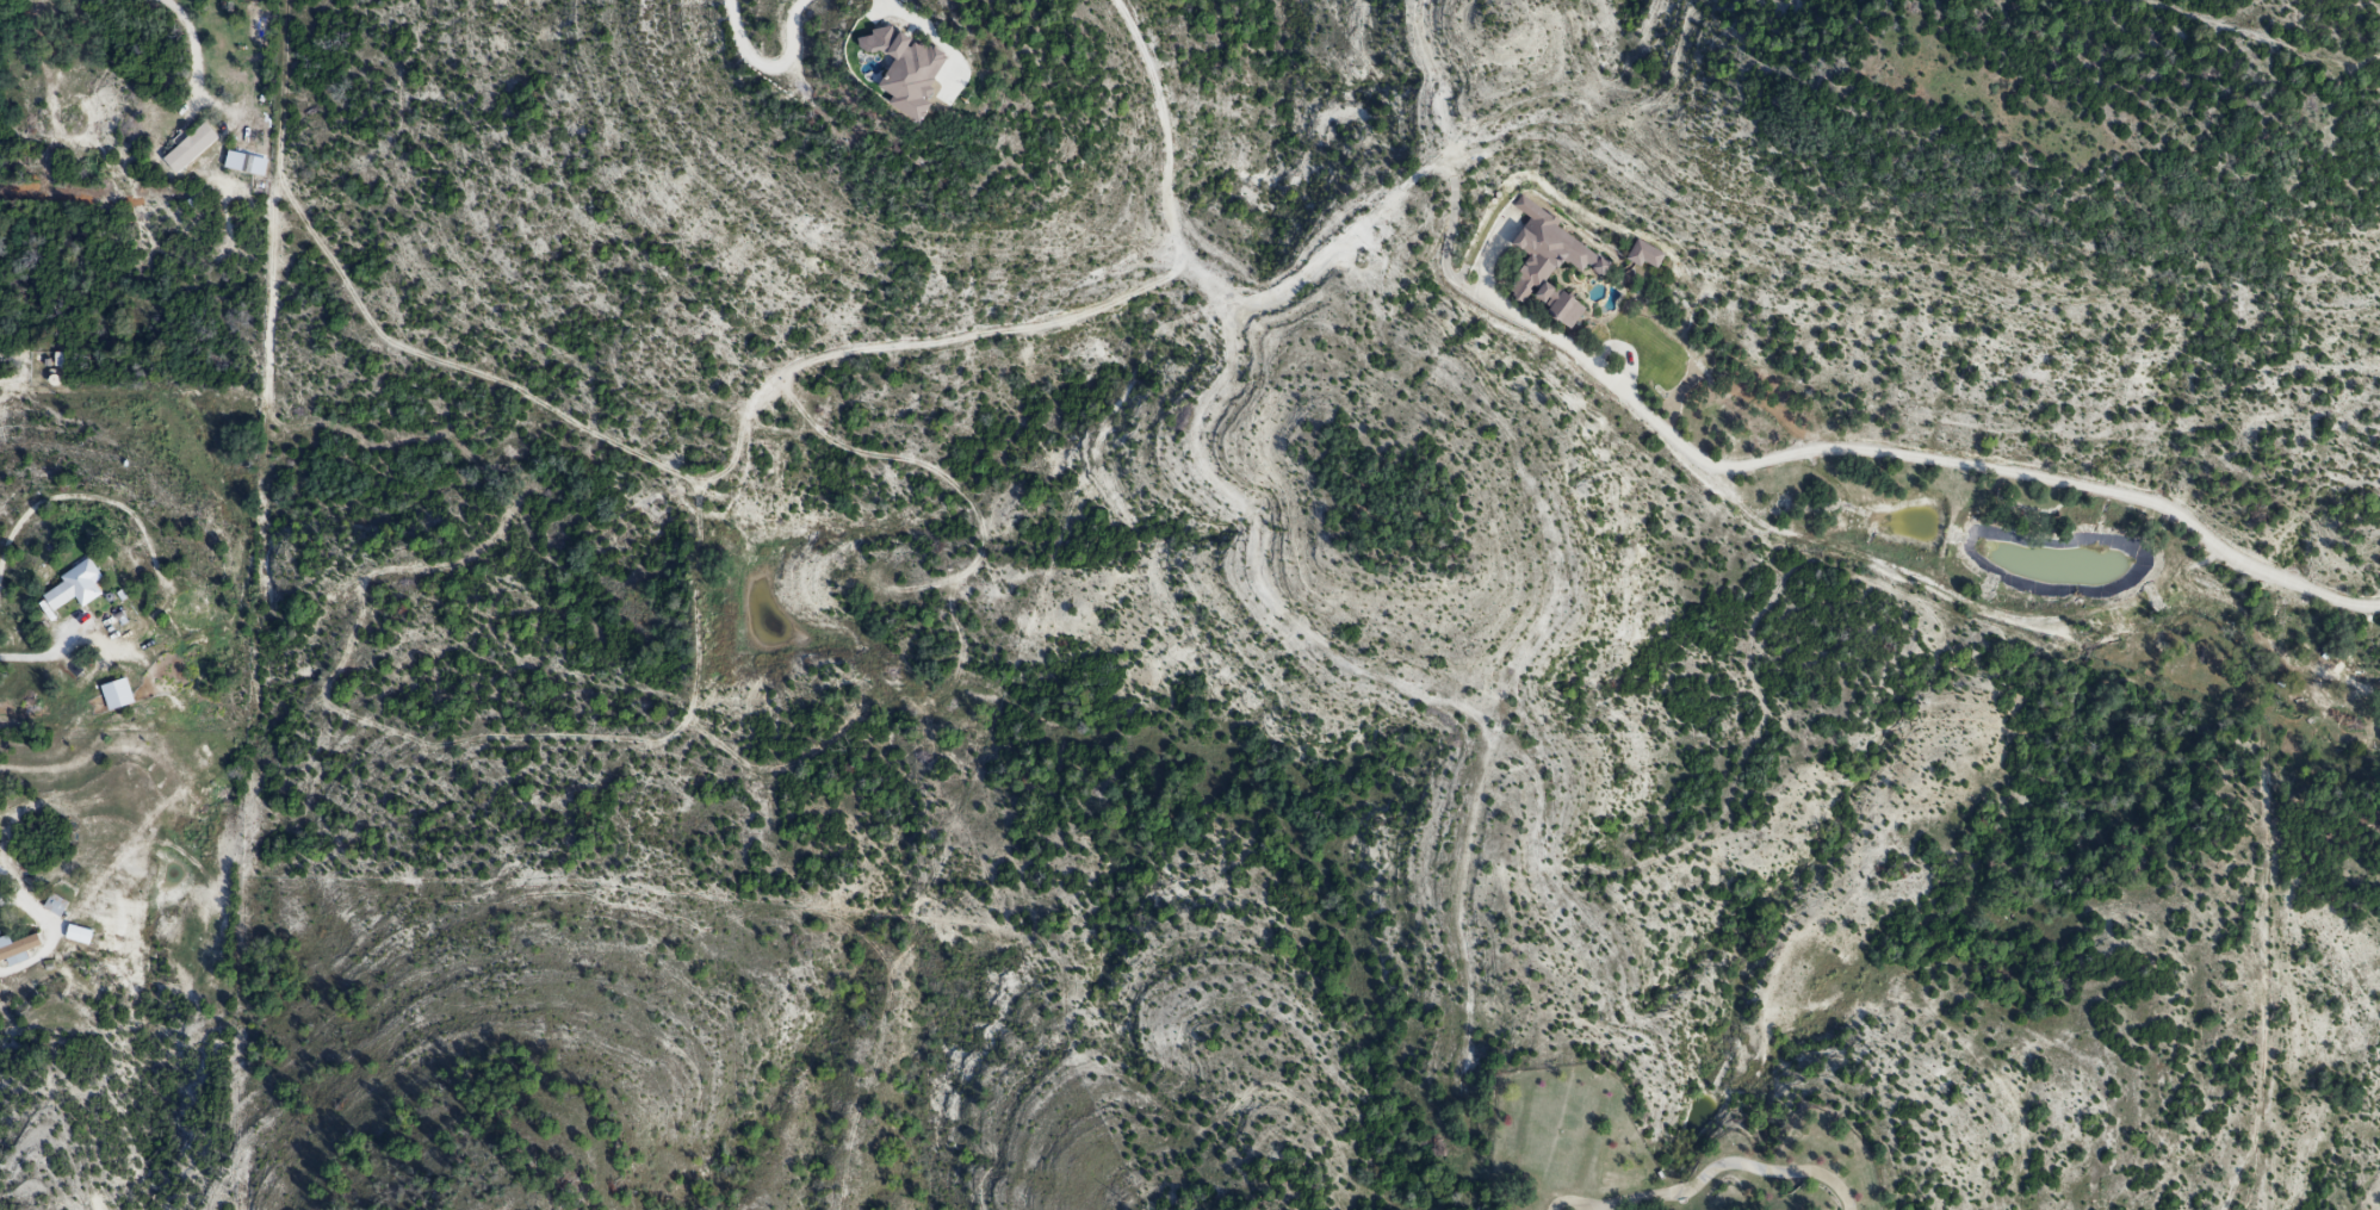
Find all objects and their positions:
road: (194, 50)
road: (771, 63)
road: (1173, 137)
building: (190, 151)
road: (1928, 459)
building: (70, 589)
road: (51, 646)
building: (55, 907)
building: (79, 937)
building: (17, 950)

